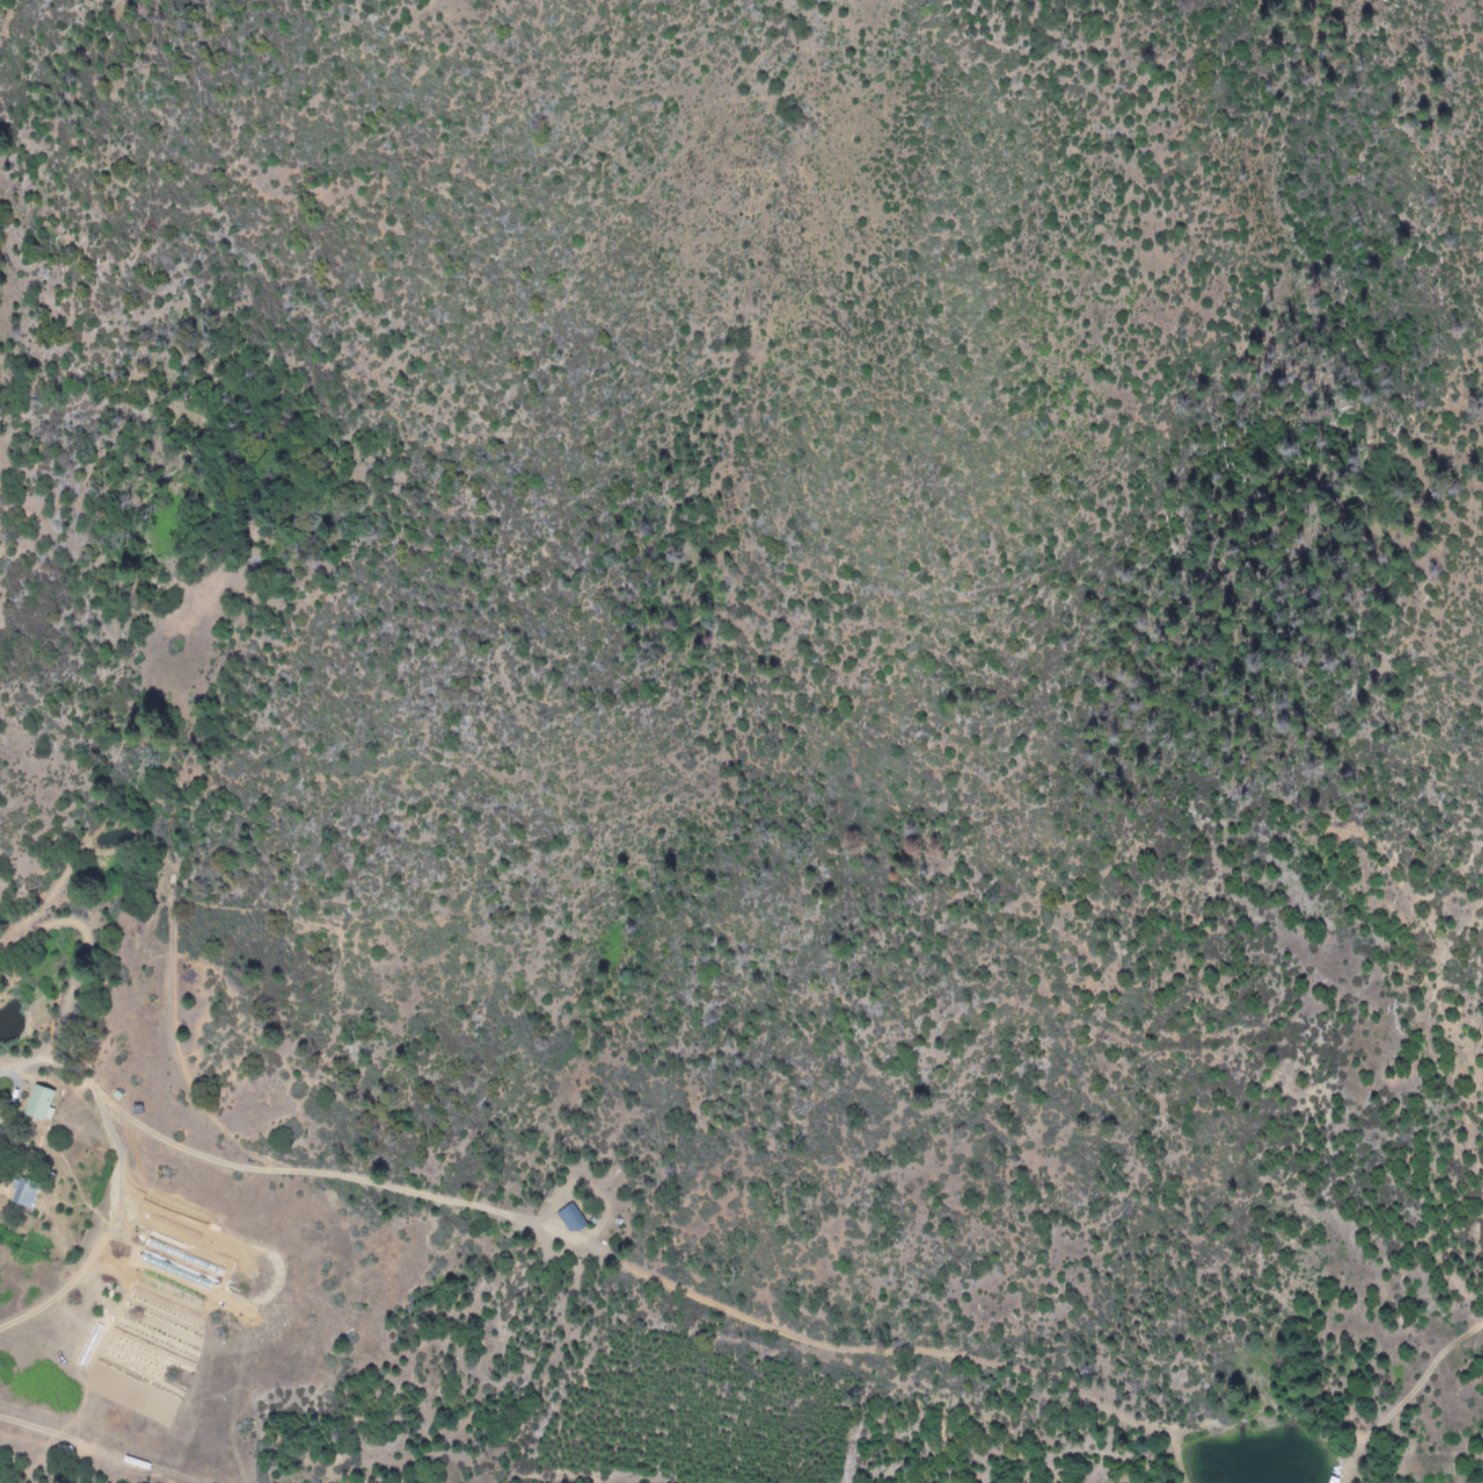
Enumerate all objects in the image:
building: (38, 1104)
building: (23, 1193)
building: (570, 1219)

